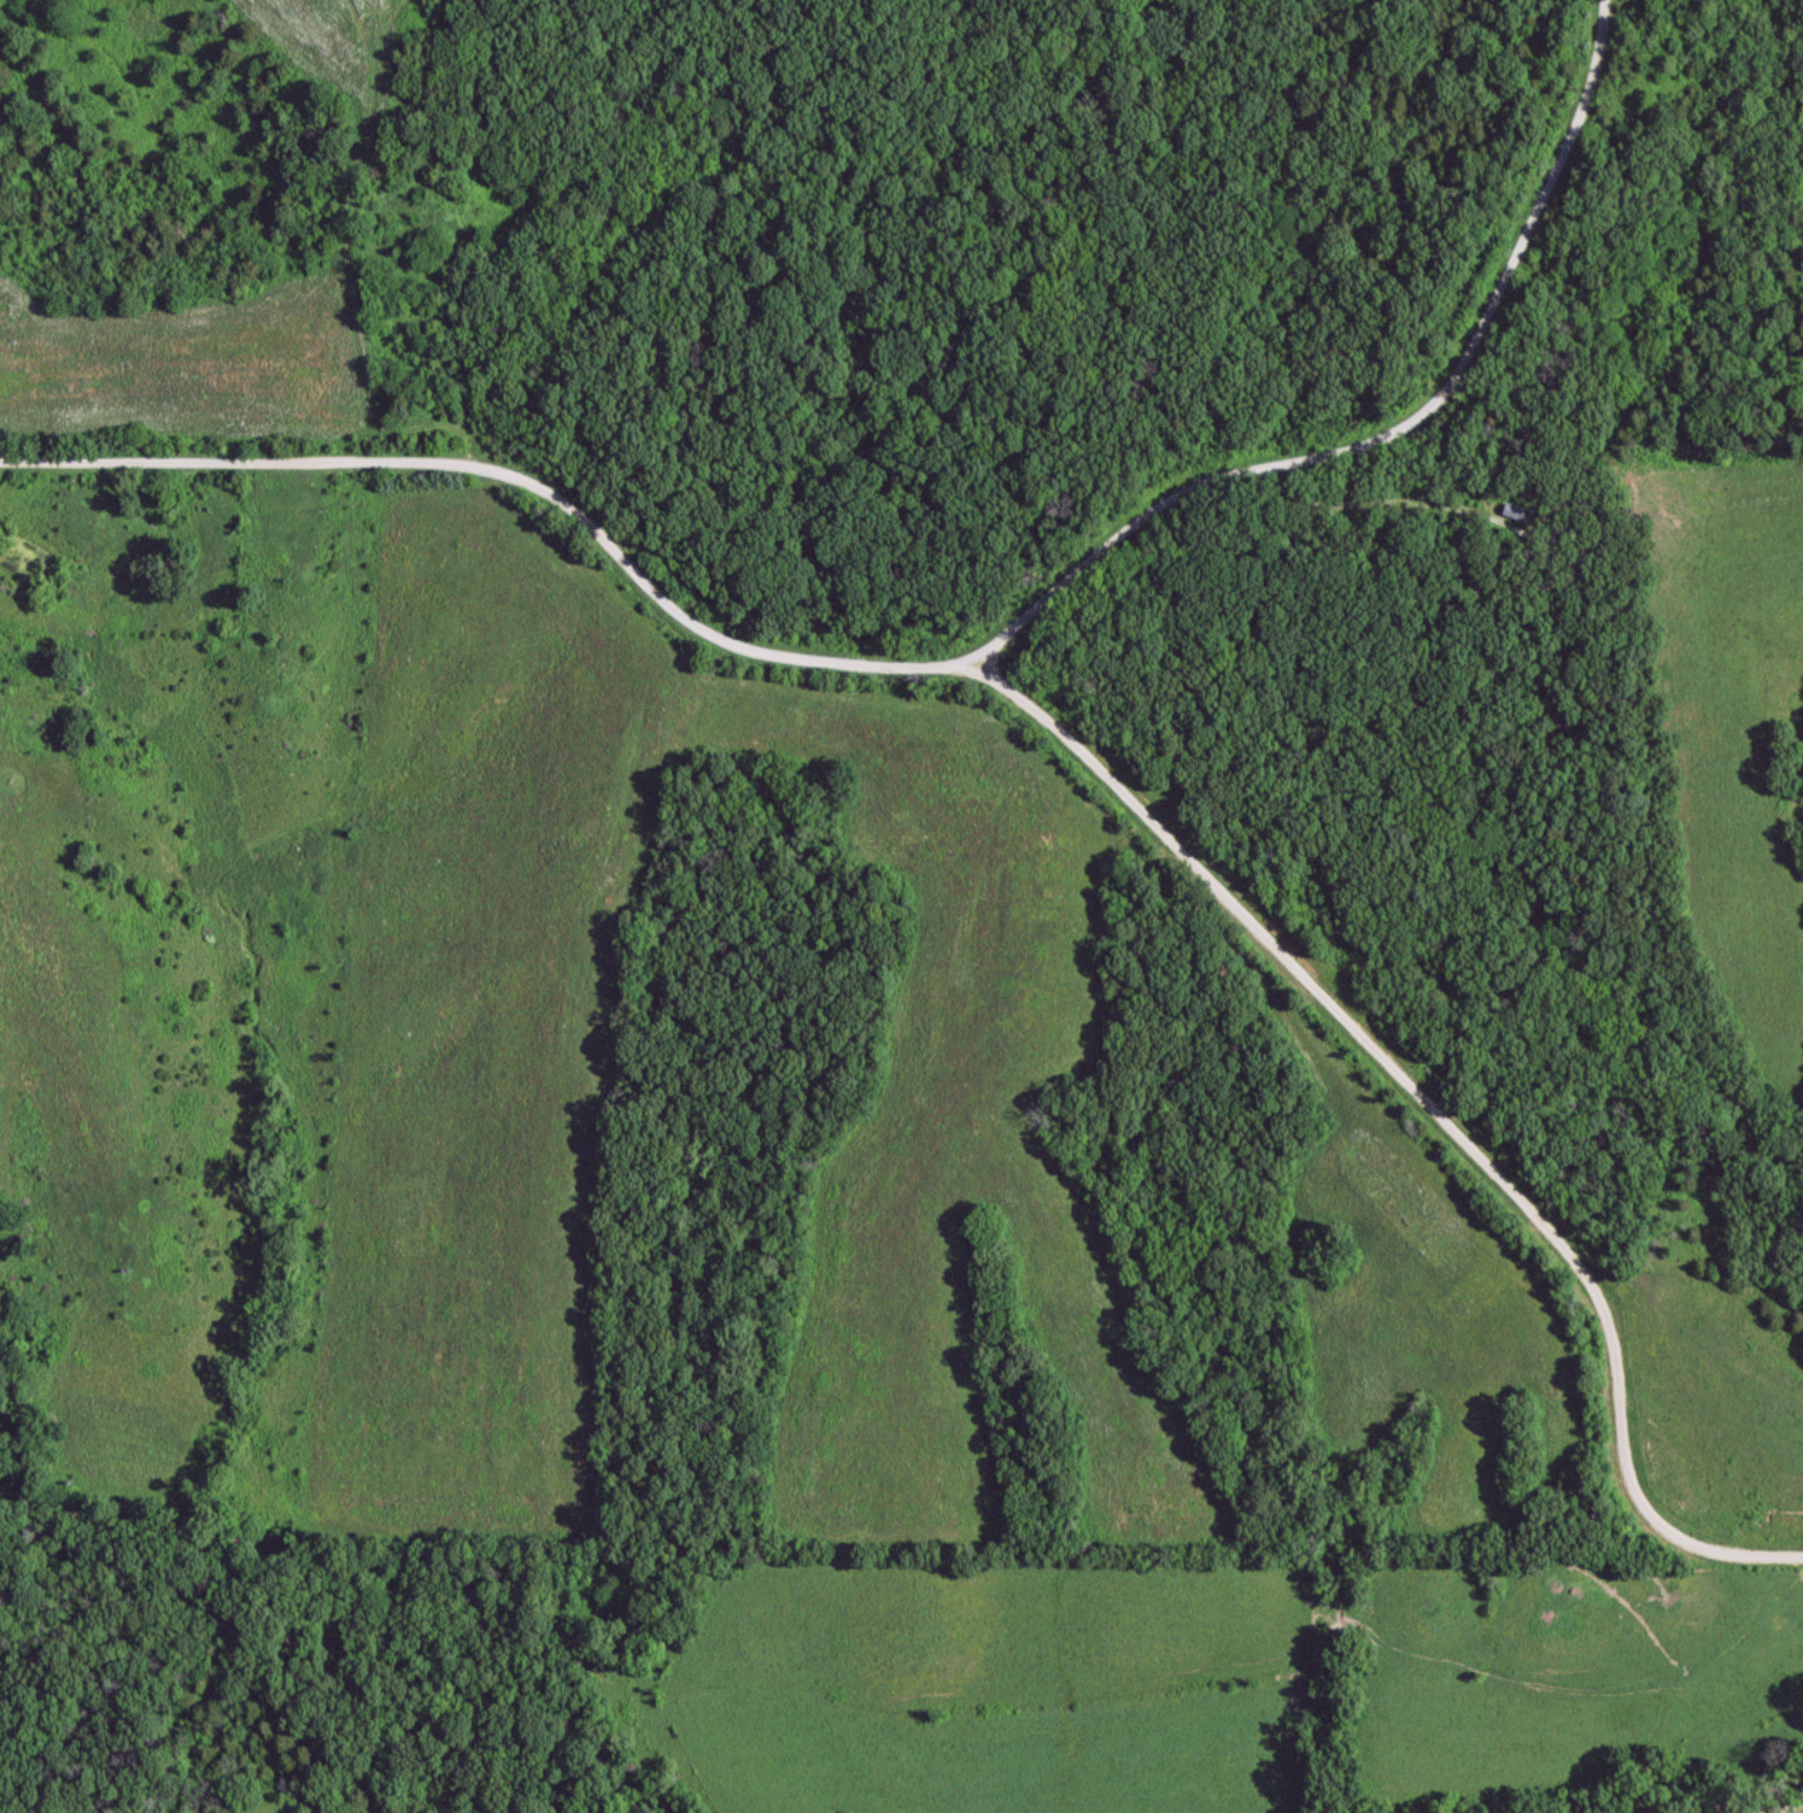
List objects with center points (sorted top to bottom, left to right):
road: (1386, 439)
road: (508, 488)
road: (1428, 1111)

